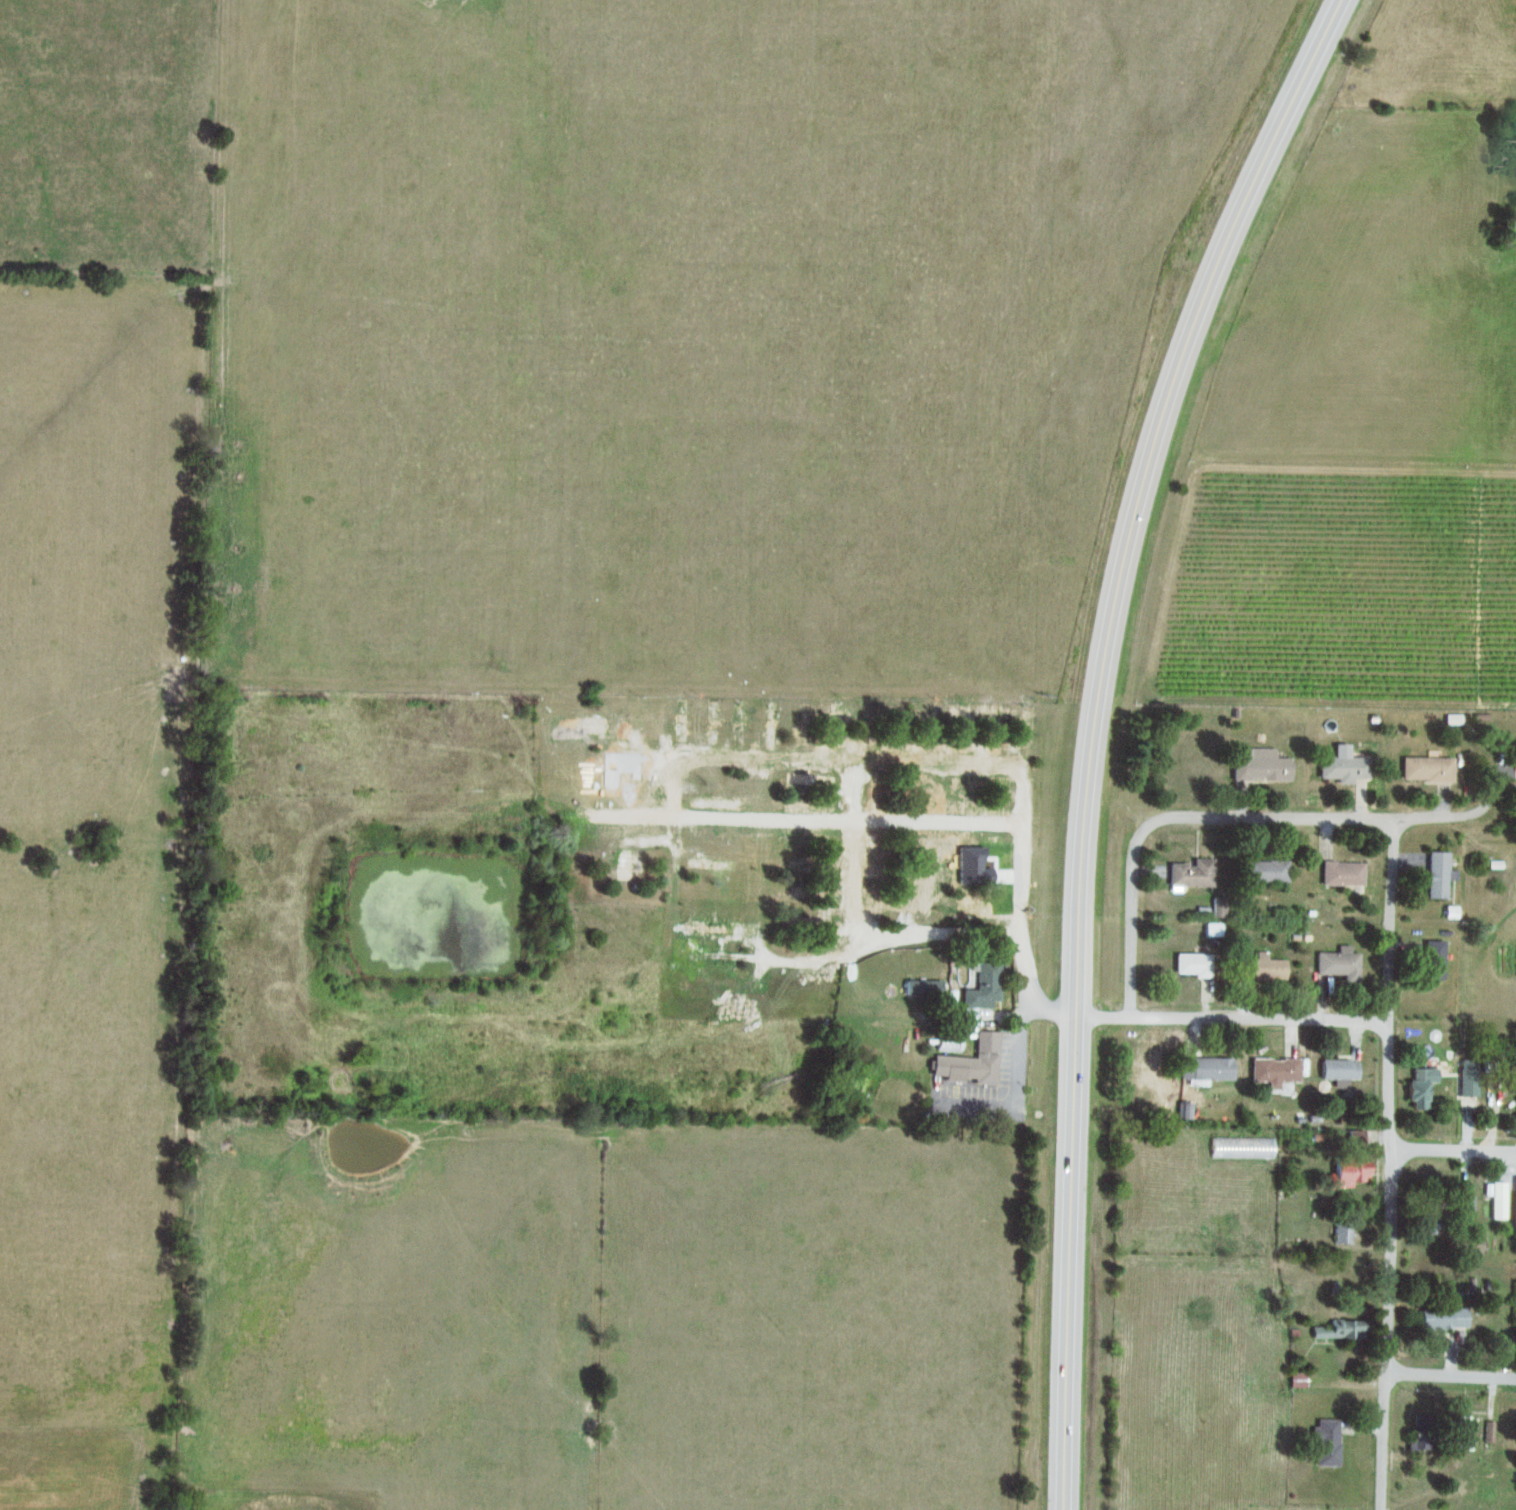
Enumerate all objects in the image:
building: (681, 720)
building: (712, 723)
building: (738, 724)
building: (592, 726)
building: (770, 726)
building: (930, 727)
building: (963, 727)
building: (995, 730)
road: (1090, 732)
road: (907, 761)
building: (1257, 764)
building: (1342, 768)
building: (1425, 768)
building: (809, 780)
building: (714, 804)
building: (804, 809)
road: (676, 818)
road: (1445, 821)
road: (1302, 822)
road: (850, 856)
building: (624, 864)
building: (1264, 871)
building: (1190, 873)
building: (1340, 873)
building: (1437, 874)
road: (1129, 883)
building: (807, 892)
building: (889, 903)
building: (1217, 907)
building: (811, 922)
road: (1389, 922)
building: (710, 928)
building: (1211, 930)
road: (872, 945)
building: (1433, 960)
building: (1192, 964)
building: (1338, 964)
building: (1260, 968)
road: (1025, 974)
building: (982, 986)
building: (922, 988)
road: (1208, 1018)
road: (886, 1038)
road: (1018, 1054)
building: (971, 1062)
building: (1205, 1069)
building: (1273, 1071)
building: (1338, 1072)
building: (1467, 1078)
building: (1419, 1087)
building: (1184, 1110)
building: (1354, 1137)
road: (1451, 1154)
building: (1349, 1173)
building: (1495, 1199)
building: (1464, 1203)
building: (1514, 1205)
building: (1427, 1218)
building: (1341, 1233)
road: (1383, 1265)
building: (1443, 1319)
building: (1338, 1330)
building: (1515, 1332)
road: (1448, 1375)
building: (1297, 1380)
building: (1489, 1432)
building: (1463, 1433)
building: (1326, 1442)

